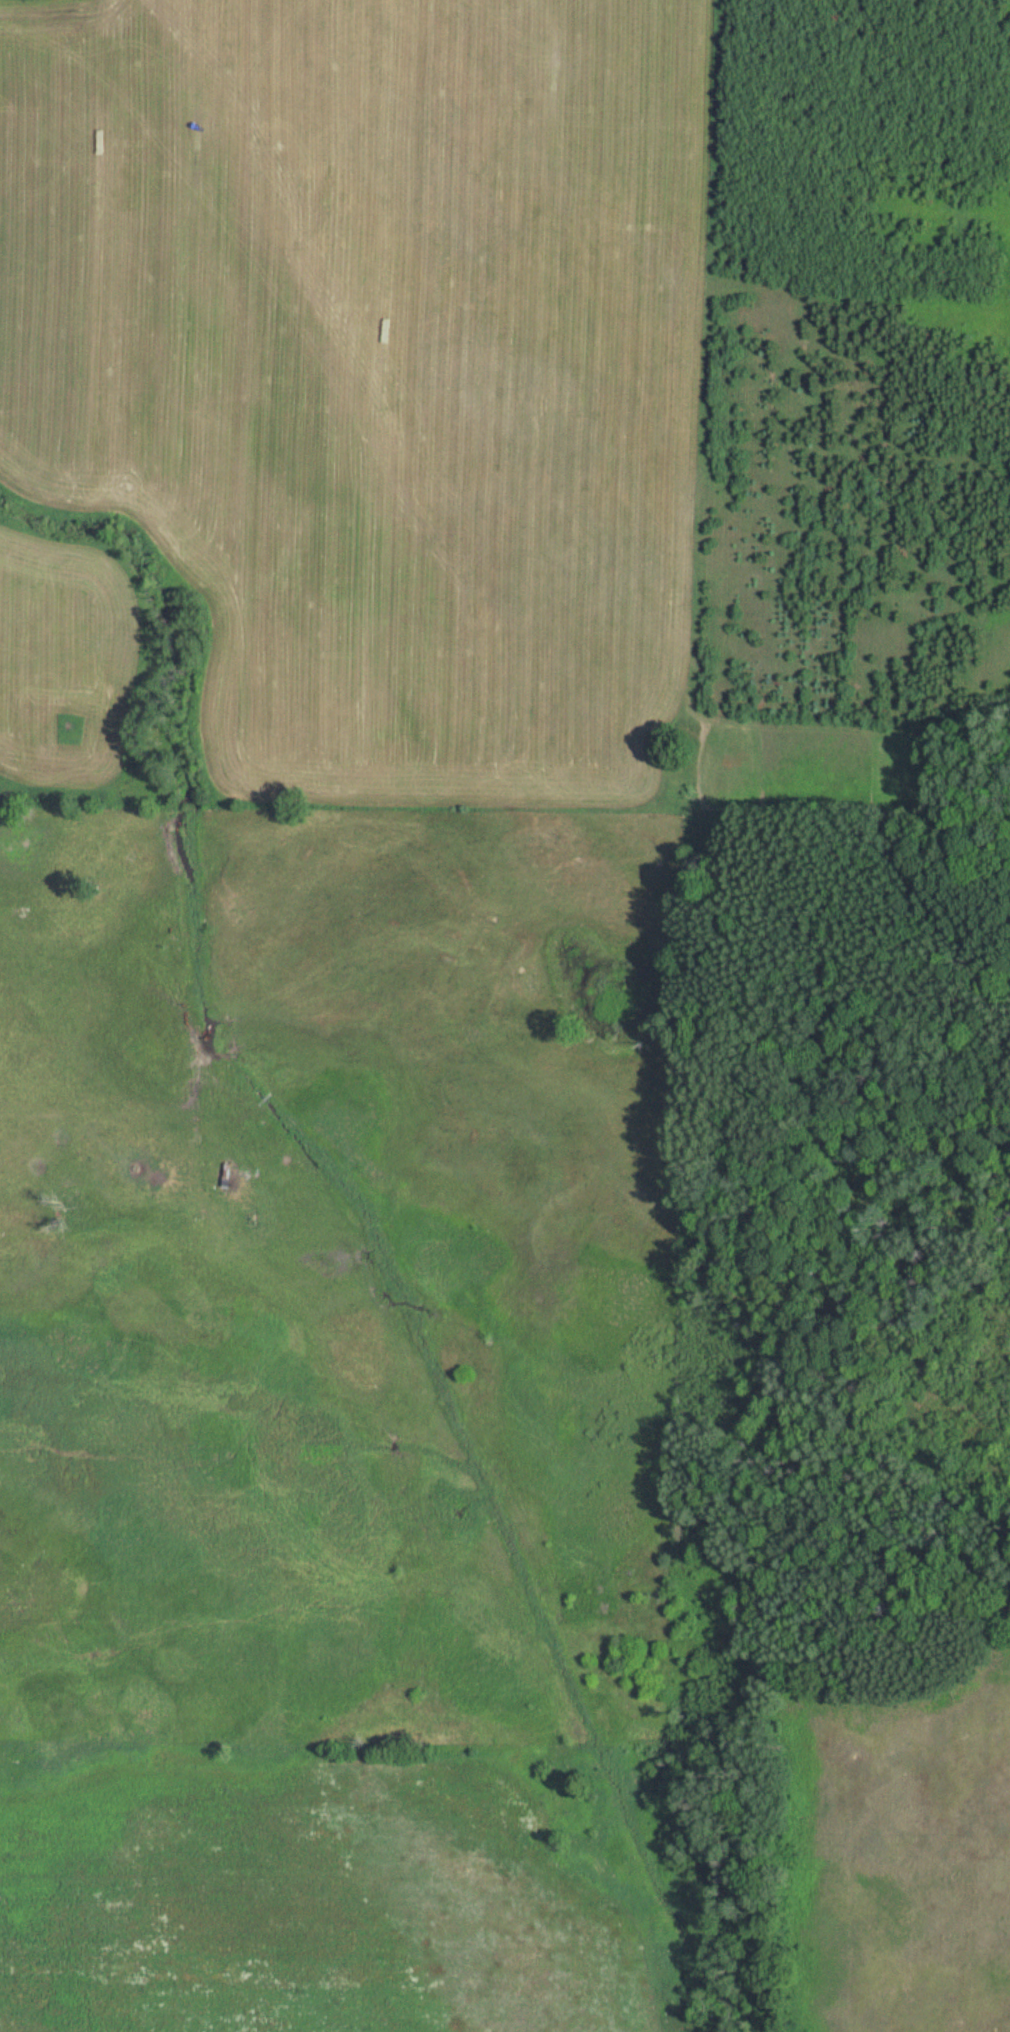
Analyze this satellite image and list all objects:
building: (228, 1179)

